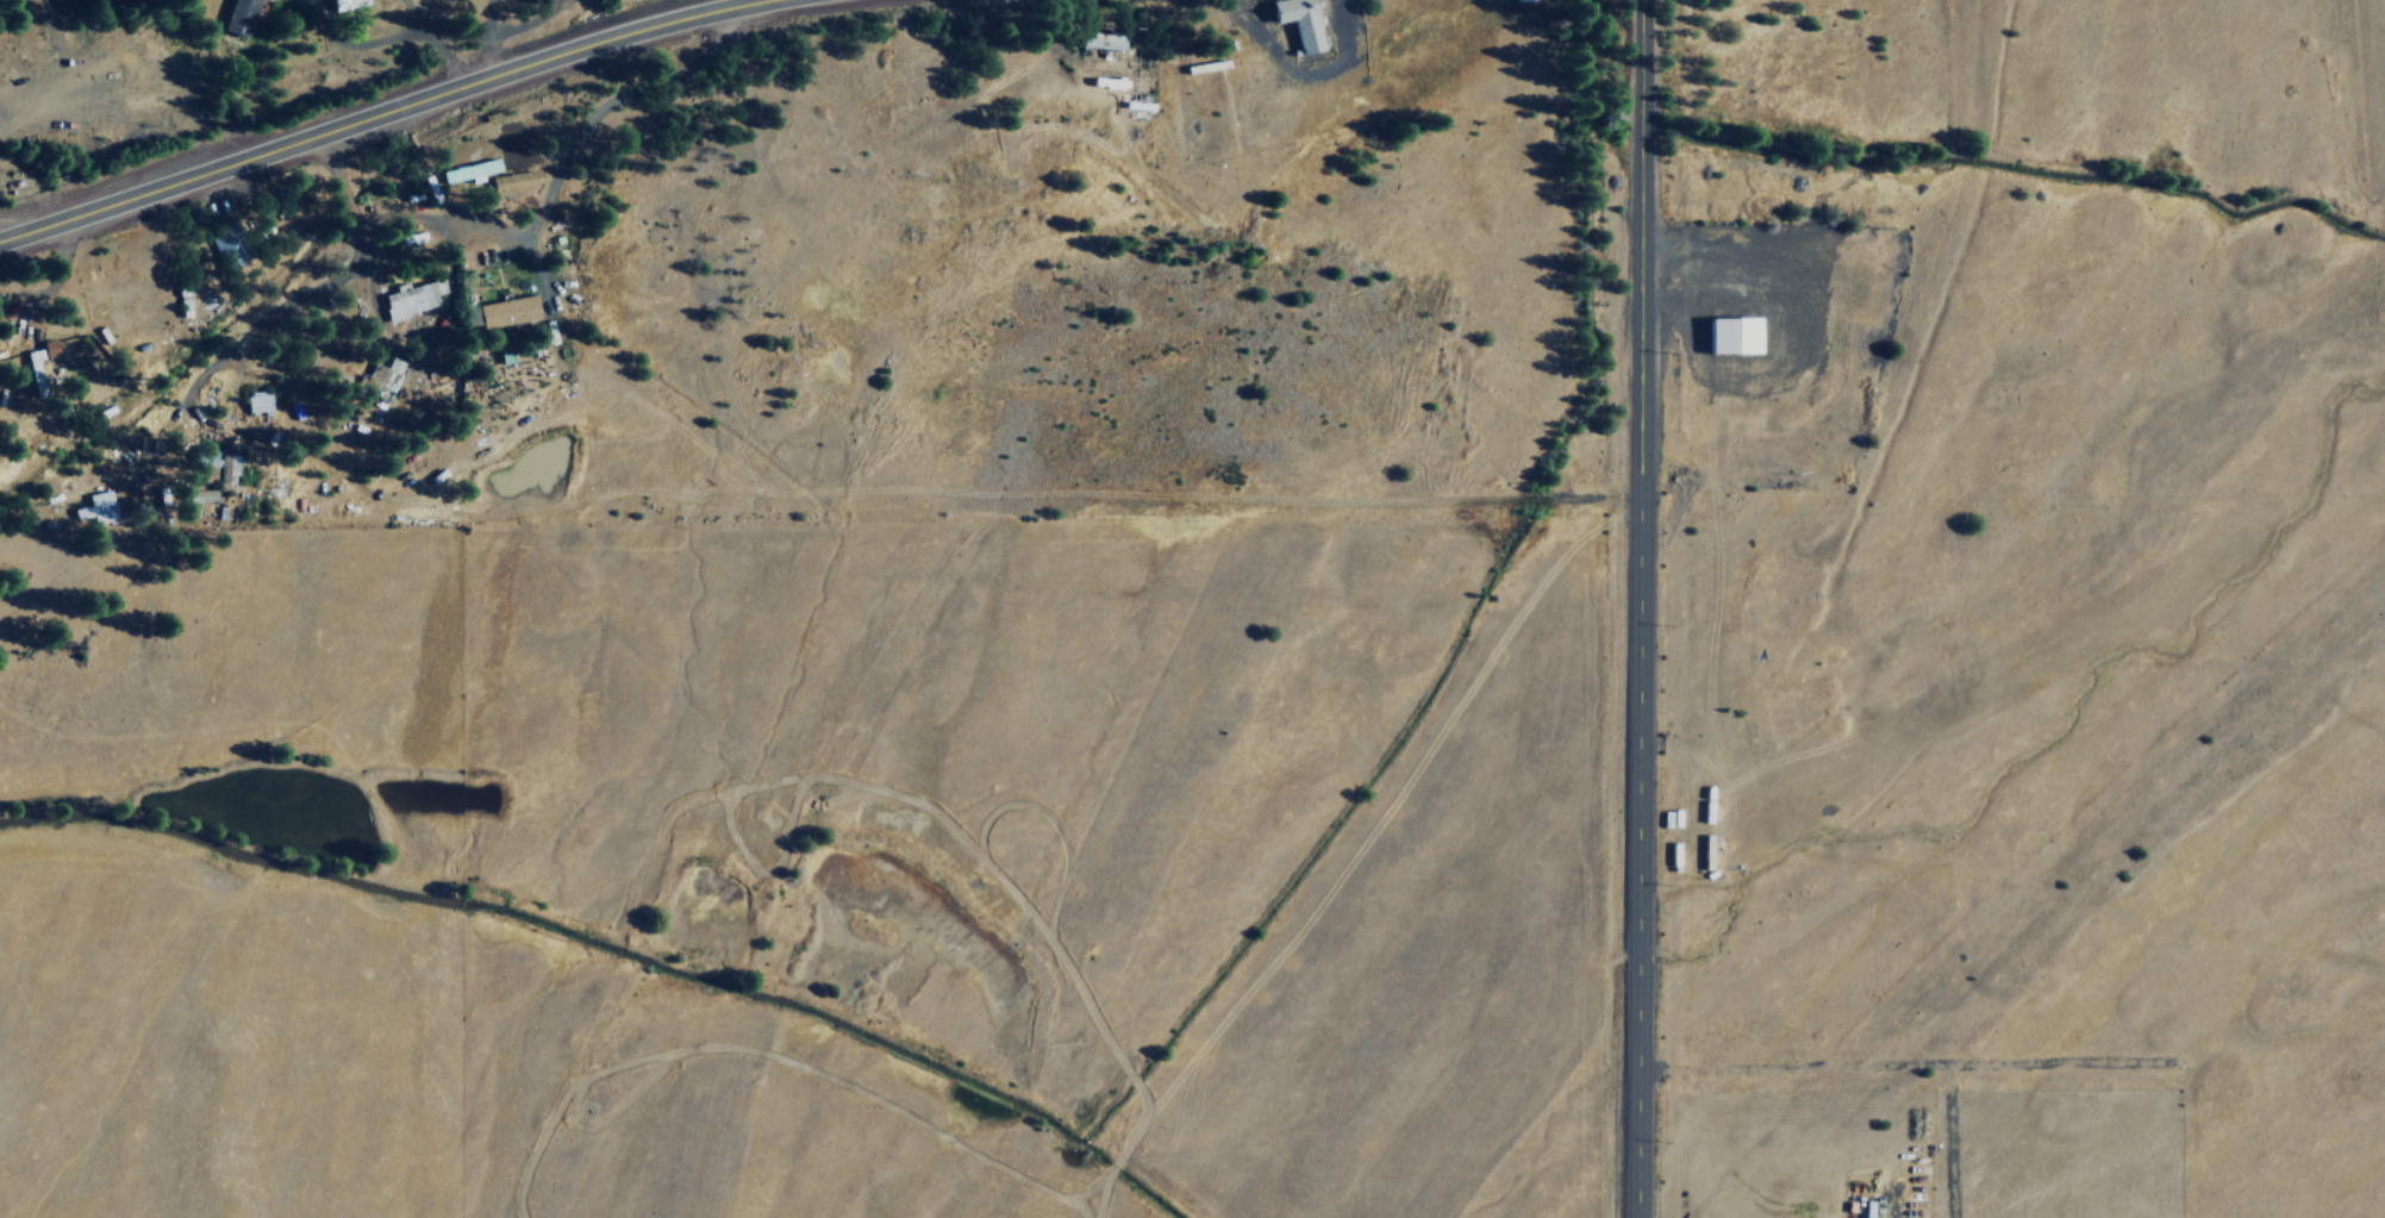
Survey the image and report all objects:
building: (1526, 0)
building: (349, 4)
building: (241, 17)
building: (1300, 21)
building: (1101, 42)
road: (376, 111)
building: (472, 170)
building: (516, 182)
building: (229, 246)
building: (412, 298)
building: (510, 310)
building: (1732, 332)
building: (37, 376)
building: (381, 377)
building: (260, 401)
building: (227, 468)
building: (206, 495)
building: (99, 508)
road: (1640, 608)

